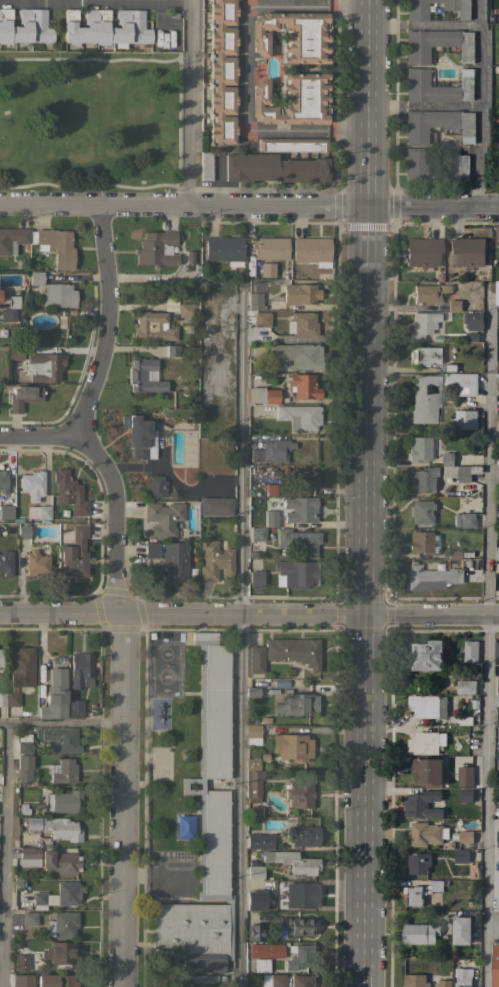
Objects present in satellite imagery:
building: (417, 14)
road: (422, 25)
building: (25, 26)
building: (105, 27)
building: (292, 35)
building: (437, 44)
road: (243, 48)
road: (153, 60)
building: (222, 72)
building: (437, 87)
building: (292, 100)
road: (185, 103)
road: (479, 103)
road: (422, 107)
park: (89, 120)
building: (438, 125)
road: (345, 131)
building: (292, 145)
building: (415, 163)
building: (206, 165)
building: (273, 168)
building: (455, 169)
road: (92, 185)
road: (182, 206)
road: (432, 206)
building: (497, 232)
building: (12, 238)
building: (56, 246)
building: (271, 248)
building: (157, 249)
building: (224, 249)
building: (312, 251)
building: (422, 252)
building: (467, 252)
building: (267, 269)
building: (36, 278)
building: (300, 293)
building: (428, 293)
building: (497, 293)
building: (58, 295)
building: (255, 301)
building: (171, 304)
building: (454, 305)
building: (188, 310)
building: (8, 315)
building: (262, 319)
building: (474, 322)
building: (302, 324)
building: (423, 324)
building: (152, 327)
building: (174, 350)
building: (297, 355)
building: (425, 355)
building: (39, 364)
building: (144, 376)
building: (462, 383)
building: (303, 386)
building: (498, 386)
building: (264, 395)
building: (23, 397)
building: (425, 398)
road: (79, 416)
building: (300, 416)
building: (464, 419)
building: (138, 435)
road: (36, 436)
building: (419, 448)
building: (272, 451)
building: (447, 459)
building: (460, 472)
building: (304, 479)
building: (423, 479)
building: (3, 482)
building: (33, 484)
building: (157, 486)
building: (270, 489)
building: (69, 492)
road: (365, 493)
building: (216, 506)
building: (300, 509)
building: (7, 512)
building: (39, 512)
building: (422, 512)
building: (163, 518)
building: (271, 518)
building: (464, 520)
building: (23, 530)
building: (257, 534)
building: (299, 541)
building: (420, 542)
building: (151, 550)
building: (75, 553)
building: (497, 554)
building: (214, 560)
building: (175, 561)
building: (6, 563)
building: (36, 563)
building: (295, 573)
building: (256, 578)
building: (431, 578)
road: (182, 614)
traffic signals: (365, 615)
road: (431, 616)
road: (238, 636)
road: (485, 637)
building: (496, 649)
building: (294, 651)
building: (470, 652)
building: (424, 655)
building: (0, 657)
building: (256, 660)
building: (22, 666)
building: (80, 668)
building: (498, 683)
building: (465, 688)
building: (252, 692)
building: (55, 695)
building: (2, 698)
building: (12, 699)
building: (496, 700)
building: (297, 705)
building: (427, 706)
building: (75, 708)
road: (61, 723)
building: (252, 734)
building: (498, 735)
building: (60, 739)
building: (23, 743)
building: (423, 743)
building: (292, 746)
building: (24, 769)
building: (63, 770)
building: (427, 772)
building: (465, 777)
building: (253, 780)
building: (299, 794)
building: (465, 796)
road: (122, 800)
building: (63, 801)
building: (421, 805)
building: (55, 827)
building: (206, 828)
building: (426, 834)
building: (303, 835)
building: (465, 837)
building: (497, 839)
building: (259, 841)
road: (4, 855)
road: (492, 855)
building: (460, 856)
building: (28, 857)
building: (292, 861)
building: (60, 862)
building: (418, 863)
building: (254, 872)
building: (497, 880)
building: (436, 886)
building: (67, 893)
building: (300, 894)
building: (412, 896)
building: (39, 898)
building: (255, 900)
building: (497, 902)
building: (29, 918)
building: (62, 924)
building: (299, 925)
road: (492, 927)
building: (461, 930)
building: (255, 932)
building: (419, 934)
building: (266, 950)
building: (61, 953)
building: (301, 956)
building: (17, 964)
building: (495, 966)
building: (463, 977)
building: (203, 978)
building: (23, 980)
building: (272, 980)
building: (302, 980)
building: (57, 981)
building: (414, 981)
building: (444, 983)

